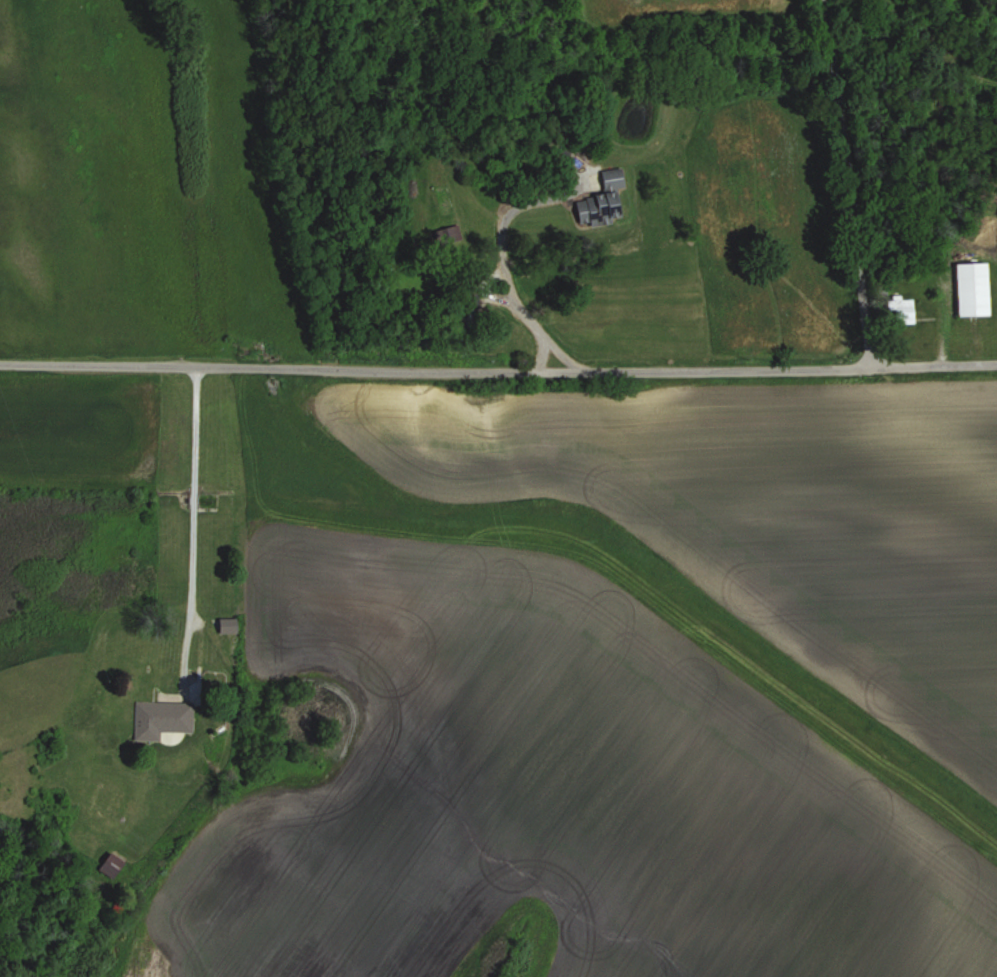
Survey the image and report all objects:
road: (852, 178)
building: (601, 201)
building: (447, 235)
road: (502, 260)
building: (972, 289)
building: (903, 310)
building: (472, 316)
road: (563, 355)
road: (498, 371)
building: (227, 626)
road: (209, 692)
building: (161, 720)
building: (109, 808)
building: (111, 866)

